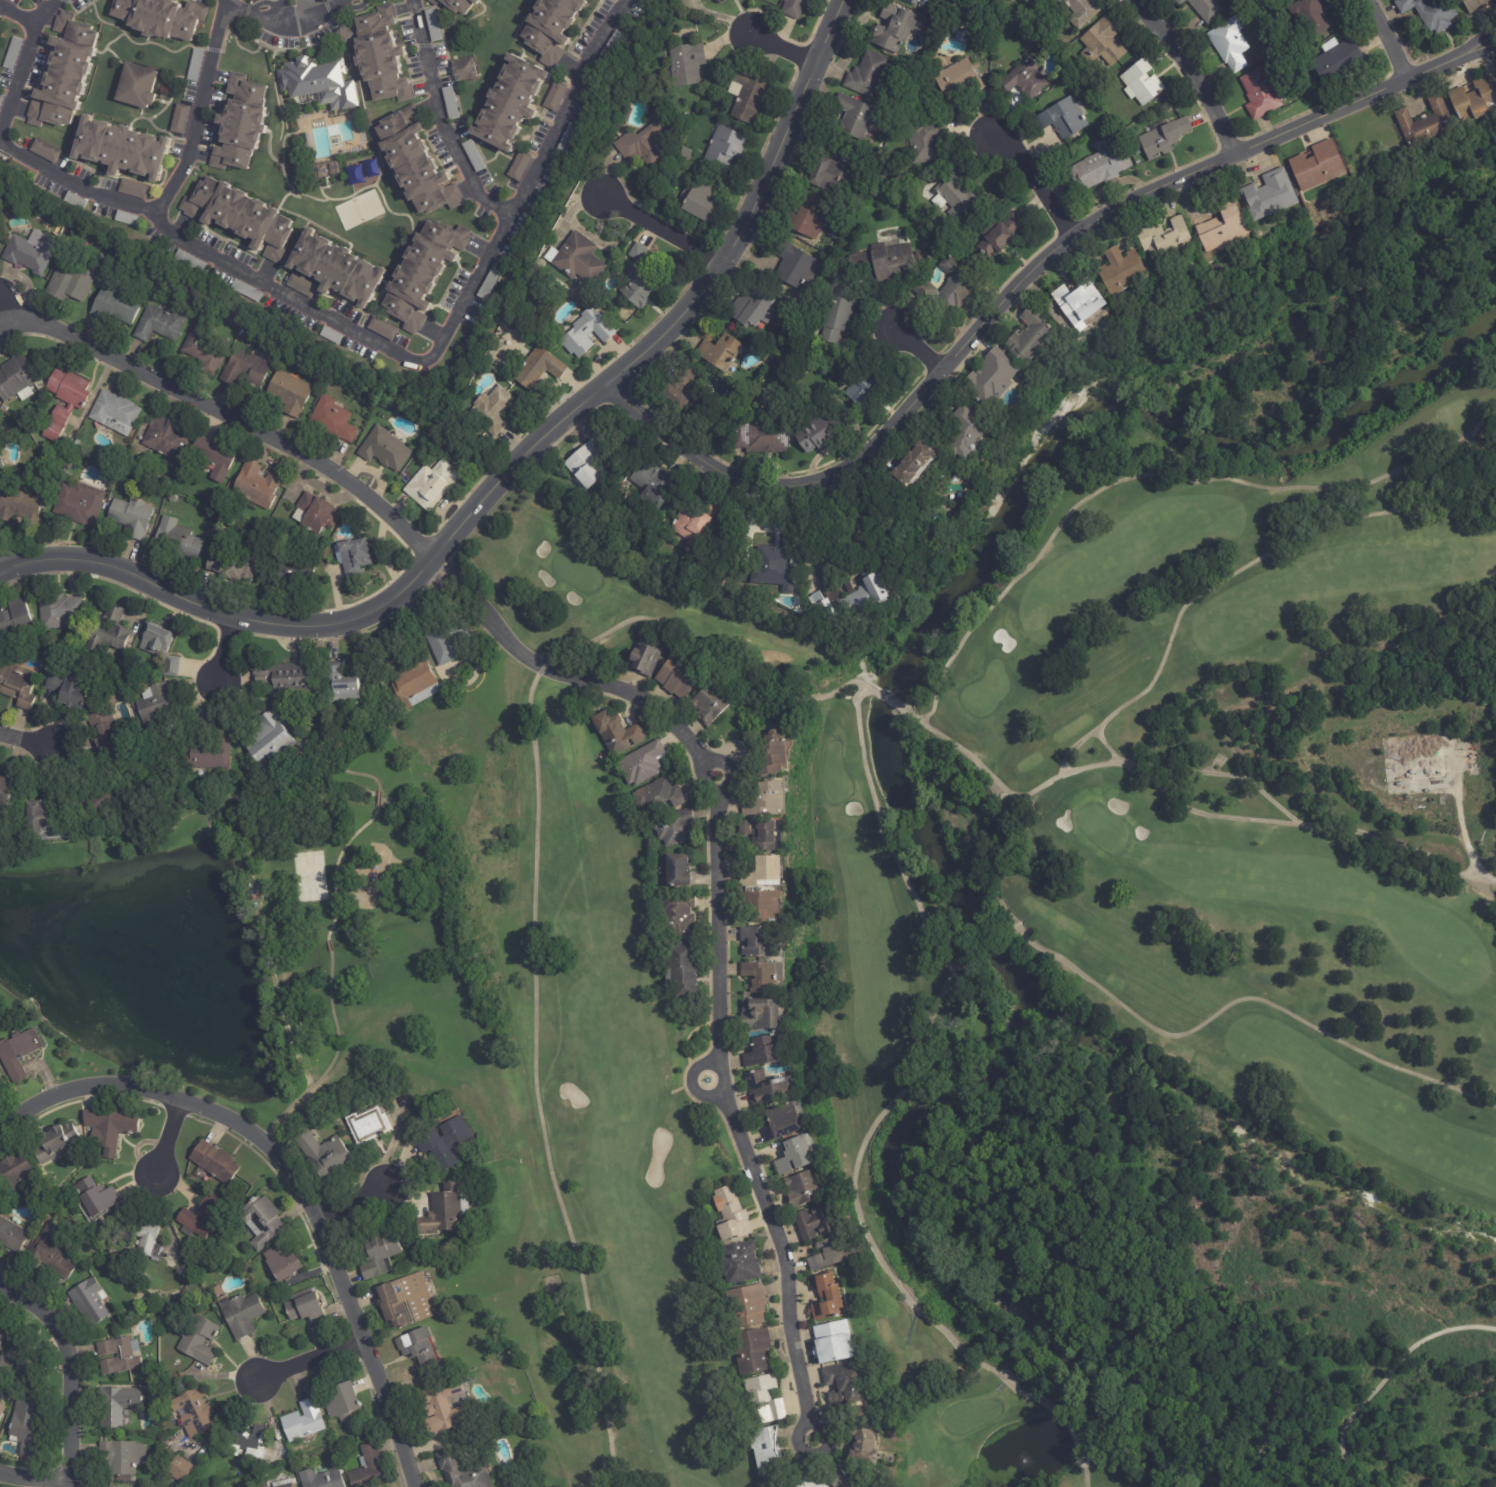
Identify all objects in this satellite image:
building: (33, 0)
building: (595, 0)
building: (597, 0)
building: (701, 0)
building: (711, 0)
building: (1287, 0)
building: (643, 1)
building: (717, 1)
building: (912, 1)
building: (457, 5)
building: (1476, 5)
road: (312, 7)
building: (793, 8)
building: (1205, 8)
road: (229, 11)
building: (1080, 11)
building: (1431, 14)
road: (278, 15)
building: (1312, 16)
building: (162, 17)
road: (31, 18)
building: (432, 24)
building: (896, 27)
building: (552, 29)
building: (343, 35)
road: (1392, 36)
building: (1030, 40)
building: (1101, 45)
building: (1229, 45)
building: (611, 46)
road: (790, 49)
building: (11, 53)
building: (382, 56)
building: (941, 59)
building: (686, 62)
building: (1338, 62)
building: (195, 65)
building: (462, 69)
road: (14, 73)
building: (67, 74)
building: (866, 74)
road: (1187, 76)
building: (959, 78)
building: (1024, 78)
building: (317, 81)
building: (1141, 82)
building: (137, 87)
building: (1261, 95)
building: (554, 96)
building: (747, 96)
building: (1, 98)
building: (1474, 99)
building: (449, 103)
building: (510, 103)
building: (627, 115)
building: (685, 116)
building: (855, 116)
building: (1062, 118)
building: (178, 119)
road: (437, 122)
building: (242, 124)
building: (1426, 124)
building: (1164, 136)
building: (566, 139)
fountain: (334, 142)
building: (644, 142)
building: (924, 142)
building: (723, 146)
building: (122, 148)
building: (45, 151)
building: (473, 156)
building: (1138, 162)
building: (417, 164)
building: (676, 165)
building: (1101, 165)
building: (1318, 165)
building: (519, 166)
building: (326, 168)
building: (830, 170)
building: (134, 189)
road: (1035, 189)
road: (167, 195)
building: (956, 195)
building: (1269, 195)
building: (74, 201)
building: (699, 201)
park: (358, 210)
building: (6, 211)
building: (809, 216)
building: (241, 217)
building: (125, 218)
building: (1226, 226)
road: (668, 228)
building: (999, 235)
building: (1166, 244)
building: (29, 252)
building: (918, 255)
building: (578, 259)
building: (188, 261)
building: (882, 262)
building: (794, 265)
building: (337, 269)
building: (1123, 272)
building: (425, 273)
building: (638, 280)
building: (488, 284)
building: (71, 285)
building: (301, 285)
building: (947, 287)
road: (1027, 287)
building: (245, 291)
building: (1077, 300)
building: (115, 307)
building: (752, 308)
building: (838, 311)
road: (455, 320)
building: (159, 324)
building: (382, 328)
building: (586, 333)
building: (330, 336)
building: (1030, 336)
building: (202, 349)
road: (922, 351)
building: (719, 352)
building: (857, 357)
building: (537, 368)
building: (244, 370)
building: (15, 378)
building: (991, 378)
building: (680, 386)
building: (865, 392)
building: (289, 393)
building: (65, 402)
building: (492, 410)
building: (113, 413)
road: (225, 415)
building: (331, 420)
building: (819, 432)
building: (960, 432)
building: (760, 436)
building: (164, 438)
building: (75, 443)
building: (384, 449)
building: (212, 458)
building: (585, 463)
building: (0, 465)
building: (913, 467)
road: (516, 473)
building: (55, 476)
building: (64, 477)
building: (431, 484)
building: (652, 484)
building: (255, 486)
building: (78, 504)
building: (19, 505)
building: (316, 514)
building: (131, 518)
building: (695, 524)
building: (177, 540)
building: (353, 557)
building: (770, 566)
building: (231, 568)
building: (289, 575)
building: (856, 591)
building: (826, 609)
building: (57, 612)
building: (16, 624)
building: (107, 634)
building: (445, 639)
building: (157, 641)
road: (232, 653)
building: (644, 655)
building: (171, 667)
building: (678, 675)
building: (288, 678)
building: (413, 683)
building: (340, 684)
building: (18, 686)
building: (70, 691)
building: (711, 704)
building: (156, 708)
building: (103, 732)
building: (616, 733)
road: (27, 739)
building: (1468, 740)
building: (268, 741)
building: (769, 749)
building: (209, 753)
building: (1413, 758)
building: (1220, 762)
building: (640, 763)
building: (1473, 765)
building: (7, 785)
building: (658, 796)
building: (765, 796)
building: (101, 807)
building: (44, 820)
building: (676, 827)
building: (761, 832)
road: (1466, 839)
building: (675, 868)
building: (768, 868)
building: (255, 894)
building: (763, 905)
building: (679, 915)
road: (721, 932)
building: (760, 941)
building: (683, 965)
building: (763, 975)
park: (1054, 984)
building: (760, 1014)
building: (762, 1052)
building: (16, 1055)
building: (0, 1081)
building: (767, 1089)
building: (784, 1122)
building: (369, 1125)
building: (111, 1128)
road: (167, 1137)
building: (57, 1143)
building: (442, 1143)
building: (322, 1153)
building: (797, 1154)
building: (214, 1163)
building: (16, 1172)
road: (296, 1176)
building: (804, 1189)
building: (95, 1198)
road: (350, 1201)
building: (441, 1211)
building: (731, 1216)
building: (200, 1217)
building: (47, 1220)
building: (261, 1221)
building: (814, 1222)
building: (77, 1233)
building: (12, 1236)
building: (142, 1236)
building: (379, 1254)
building: (50, 1255)
building: (830, 1255)
building: (281, 1263)
building: (740, 1263)
building: (216, 1292)
building: (826, 1298)
building: (404, 1300)
building: (88, 1303)
building: (747, 1305)
building: (306, 1308)
building: (243, 1315)
building: (122, 1331)
building: (1, 1339)
building: (196, 1339)
building: (832, 1342)
building: (415, 1346)
building: (751, 1351)
building: (117, 1355)
road: (310, 1362)
building: (17, 1369)
road: (64, 1371)
building: (844, 1381)
building: (763, 1400)
building: (343, 1402)
building: (118, 1405)
building: (443, 1408)
building: (2, 1411)
building: (193, 1412)
building: (303, 1421)
building: (23, 1428)
building: (859, 1434)
building: (245, 1442)
building: (767, 1451)
building: (122, 1456)
building: (368, 1468)
building: (181, 1469)
building: (460, 1472)
road: (33, 1477)
building: (321, 1479)
building: (838, 1479)
building: (810, 1482)
building: (287, 1486)
building: (864, 1486)

